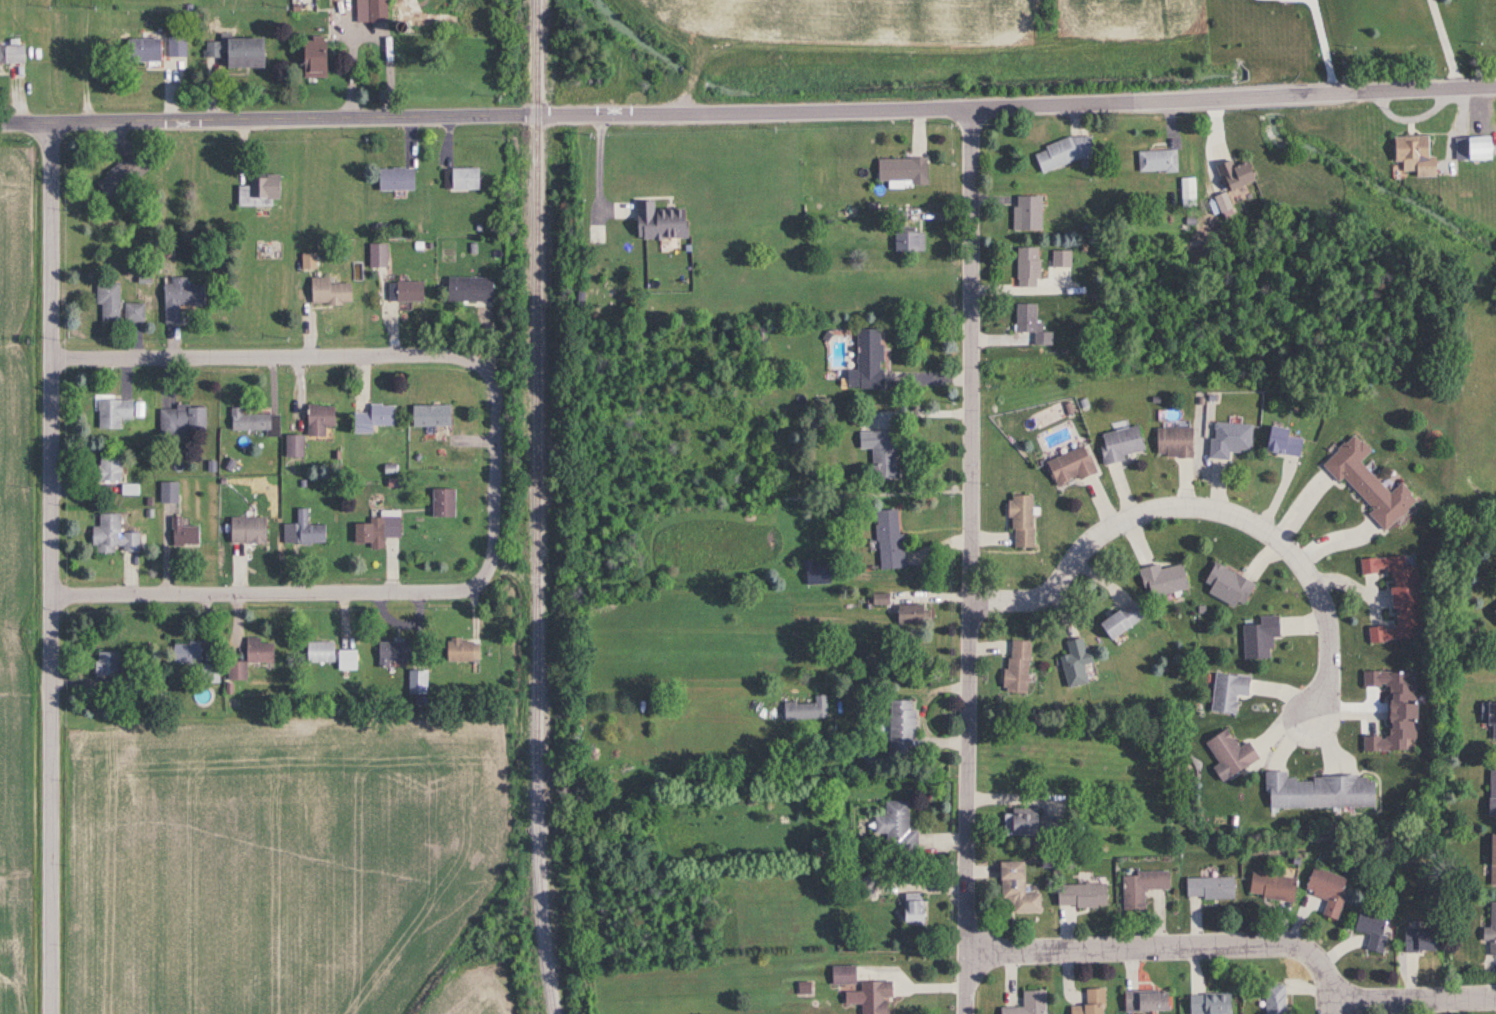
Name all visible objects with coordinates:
building: (367, 10)
road: (1443, 43)
road: (1320, 45)
building: (174, 47)
building: (141, 50)
building: (234, 51)
building: (11, 54)
building: (308, 56)
road: (83, 61)
road: (1017, 105)
road: (269, 119)
building: (1470, 147)
building: (1061, 153)
building: (1408, 153)
building: (1155, 162)
road: (598, 168)
building: (899, 170)
building: (1232, 173)
building: (121, 176)
building: (393, 178)
building: (463, 179)
building: (257, 191)
building: (1026, 213)
building: (657, 222)
building: (907, 239)
building: (376, 255)
building: (1060, 259)
building: (1026, 266)
building: (467, 288)
building: (406, 291)
building: (328, 292)
building: (178, 298)
building: (106, 300)
building: (132, 312)
building: (1030, 323)
road: (263, 353)
building: (865, 361)
building: (117, 412)
building: (429, 415)
building: (180, 419)
building: (371, 419)
building: (316, 420)
building: (250, 421)
building: (1228, 439)
building: (1172, 442)
building: (1280, 442)
building: (1119, 443)
building: (291, 446)
building: (881, 454)
building: (1068, 466)
building: (107, 469)
road: (496, 473)
building: (1366, 484)
building: (167, 493)
building: (440, 503)
railway: (540, 507)
road: (1207, 507)
building: (1020, 521)
building: (244, 530)
building: (375, 530)
building: (302, 531)
building: (182, 533)
building: (111, 536)
building: (888, 539)
road: (969, 561)
road: (50, 568)
building: (814, 573)
building: (1161, 580)
building: (1226, 585)
road: (260, 592)
building: (1396, 598)
building: (1493, 611)
building: (907, 615)
building: (1118, 620)
building: (1258, 637)
building: (460, 650)
building: (390, 652)
building: (329, 655)
building: (248, 657)
building: (194, 660)
building: (1073, 662)
building: (105, 664)
building: (1015, 666)
building: (1226, 692)
building: (806, 709)
building: (1392, 710)
road: (922, 715)
building: (1490, 718)
building: (900, 726)
building: (1227, 754)
building: (1316, 791)
building: (1491, 793)
building: (1019, 822)
building: (894, 826)
building: (1491, 861)
building: (863, 887)
building: (1270, 887)
building: (1139, 888)
building: (1208, 888)
building: (1015, 889)
building: (1325, 890)
building: (1079, 895)
building: (910, 908)
building: (1370, 930)
building: (1490, 930)
building: (1417, 941)
road: (1168, 946)
building: (841, 975)
building: (869, 997)
road: (1416, 997)
building: (1274, 999)
building: (1145, 1000)
building: (1089, 1002)
building: (1209, 1003)
building: (1027, 1004)
road: (1337, 1007)

